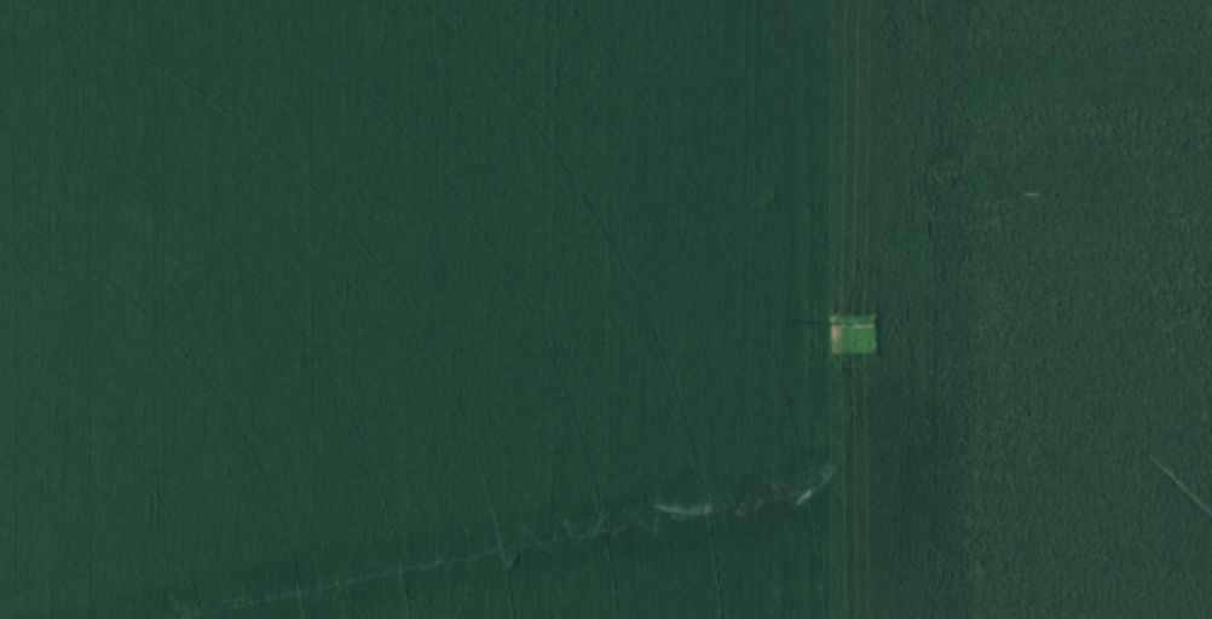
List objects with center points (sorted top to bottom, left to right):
power tower: (866, 328)

